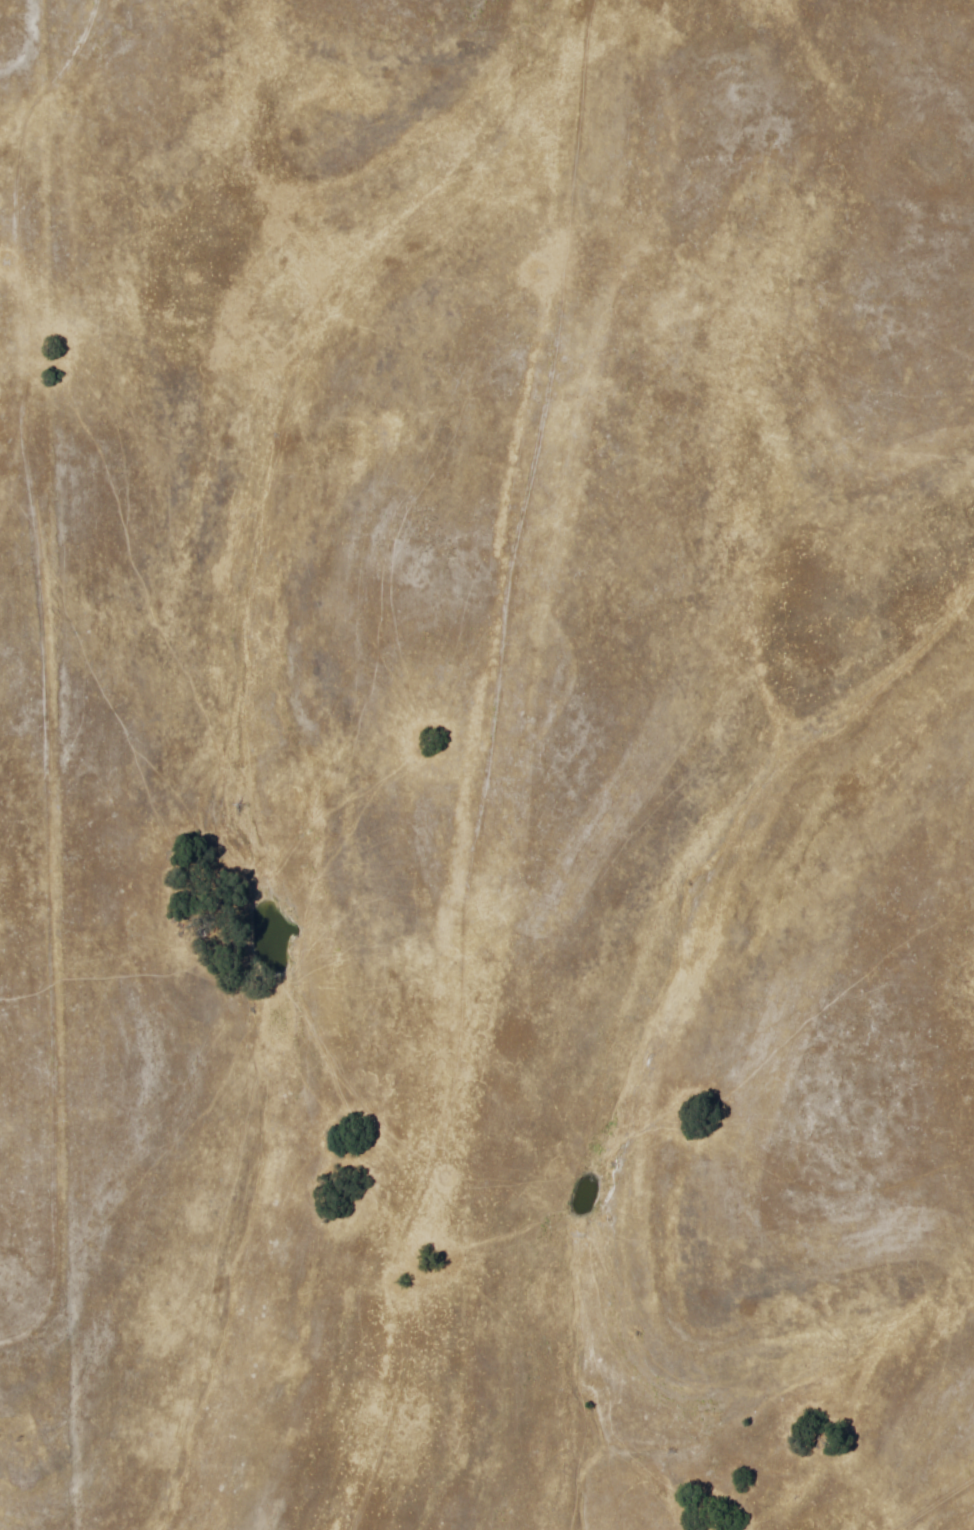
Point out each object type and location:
road: (495, 657)

